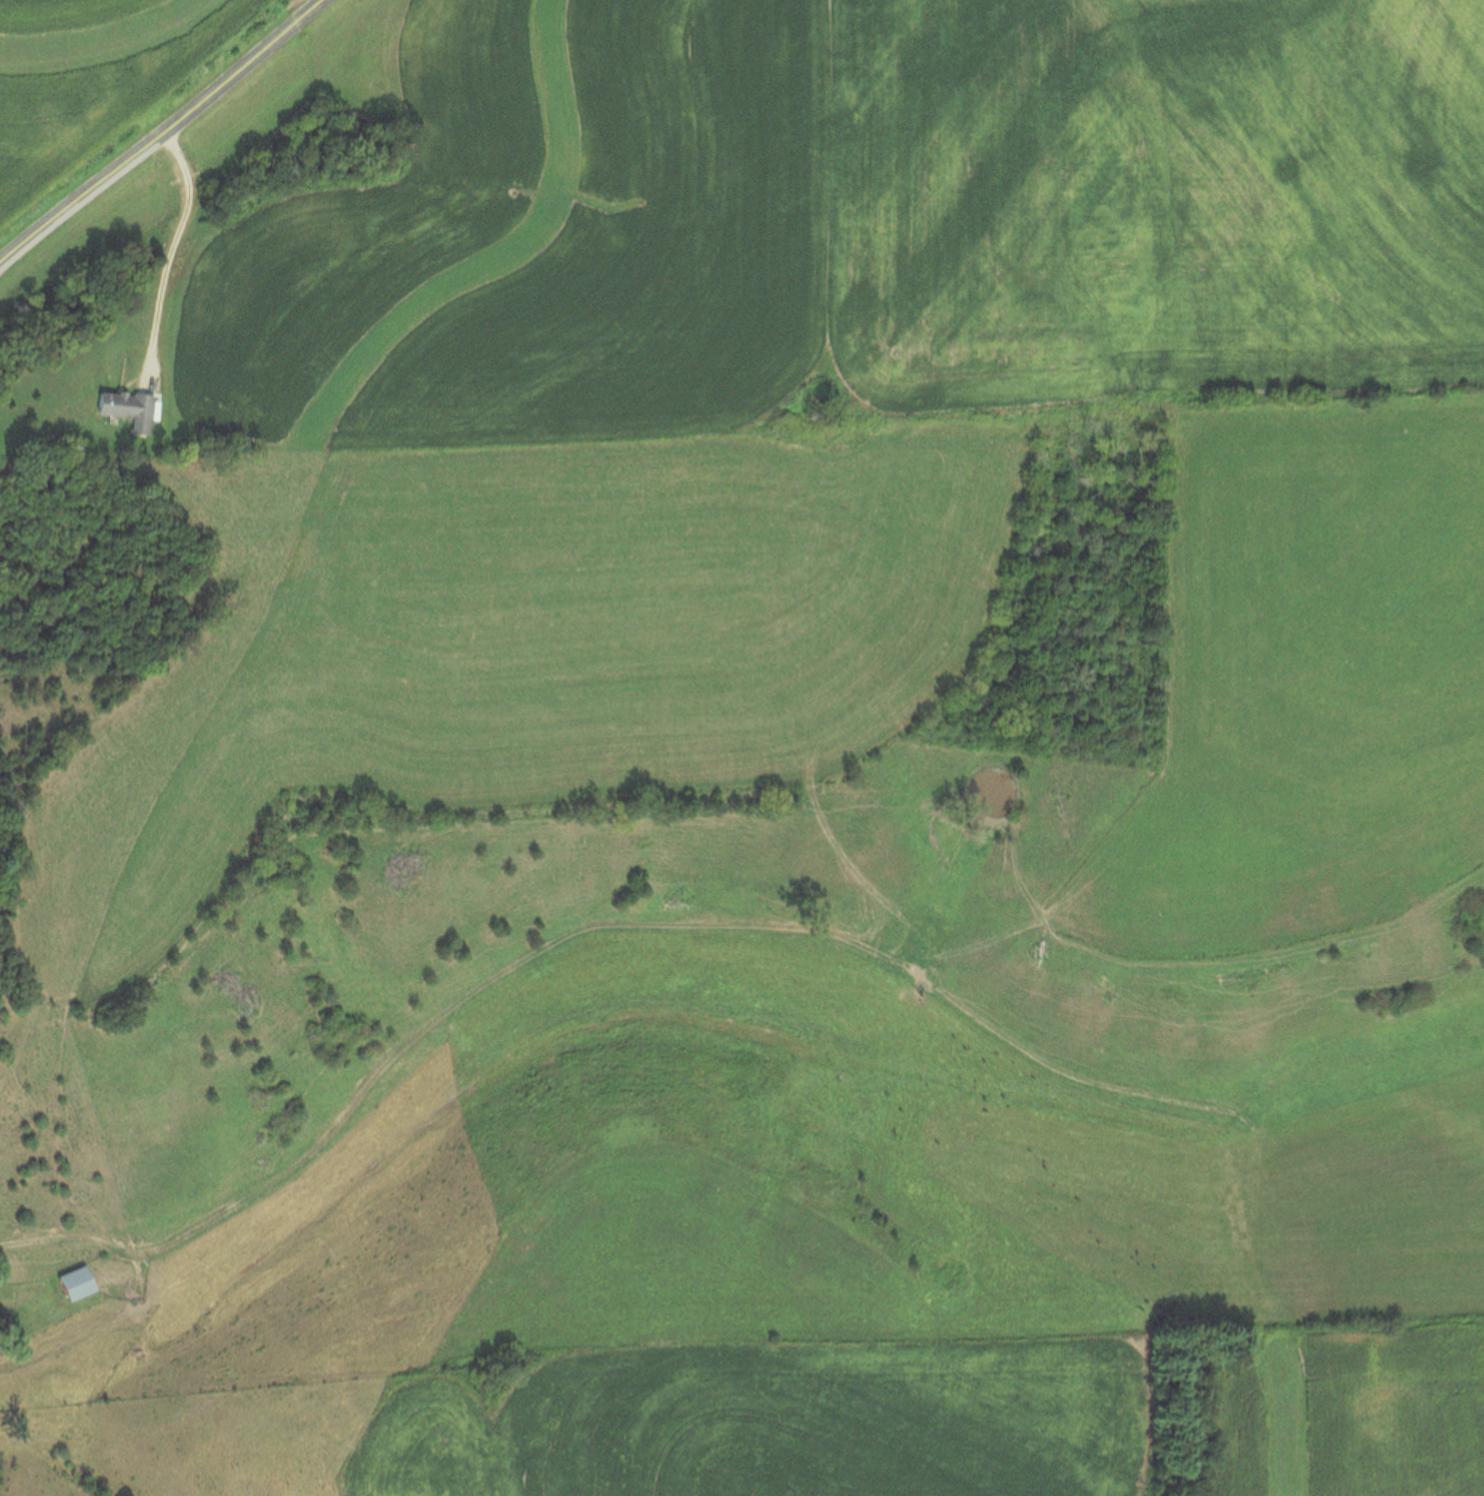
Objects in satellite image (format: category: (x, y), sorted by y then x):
road: (163, 136)
road: (163, 253)
building: (125, 408)
building: (71, 1283)
building: (4, 1292)

